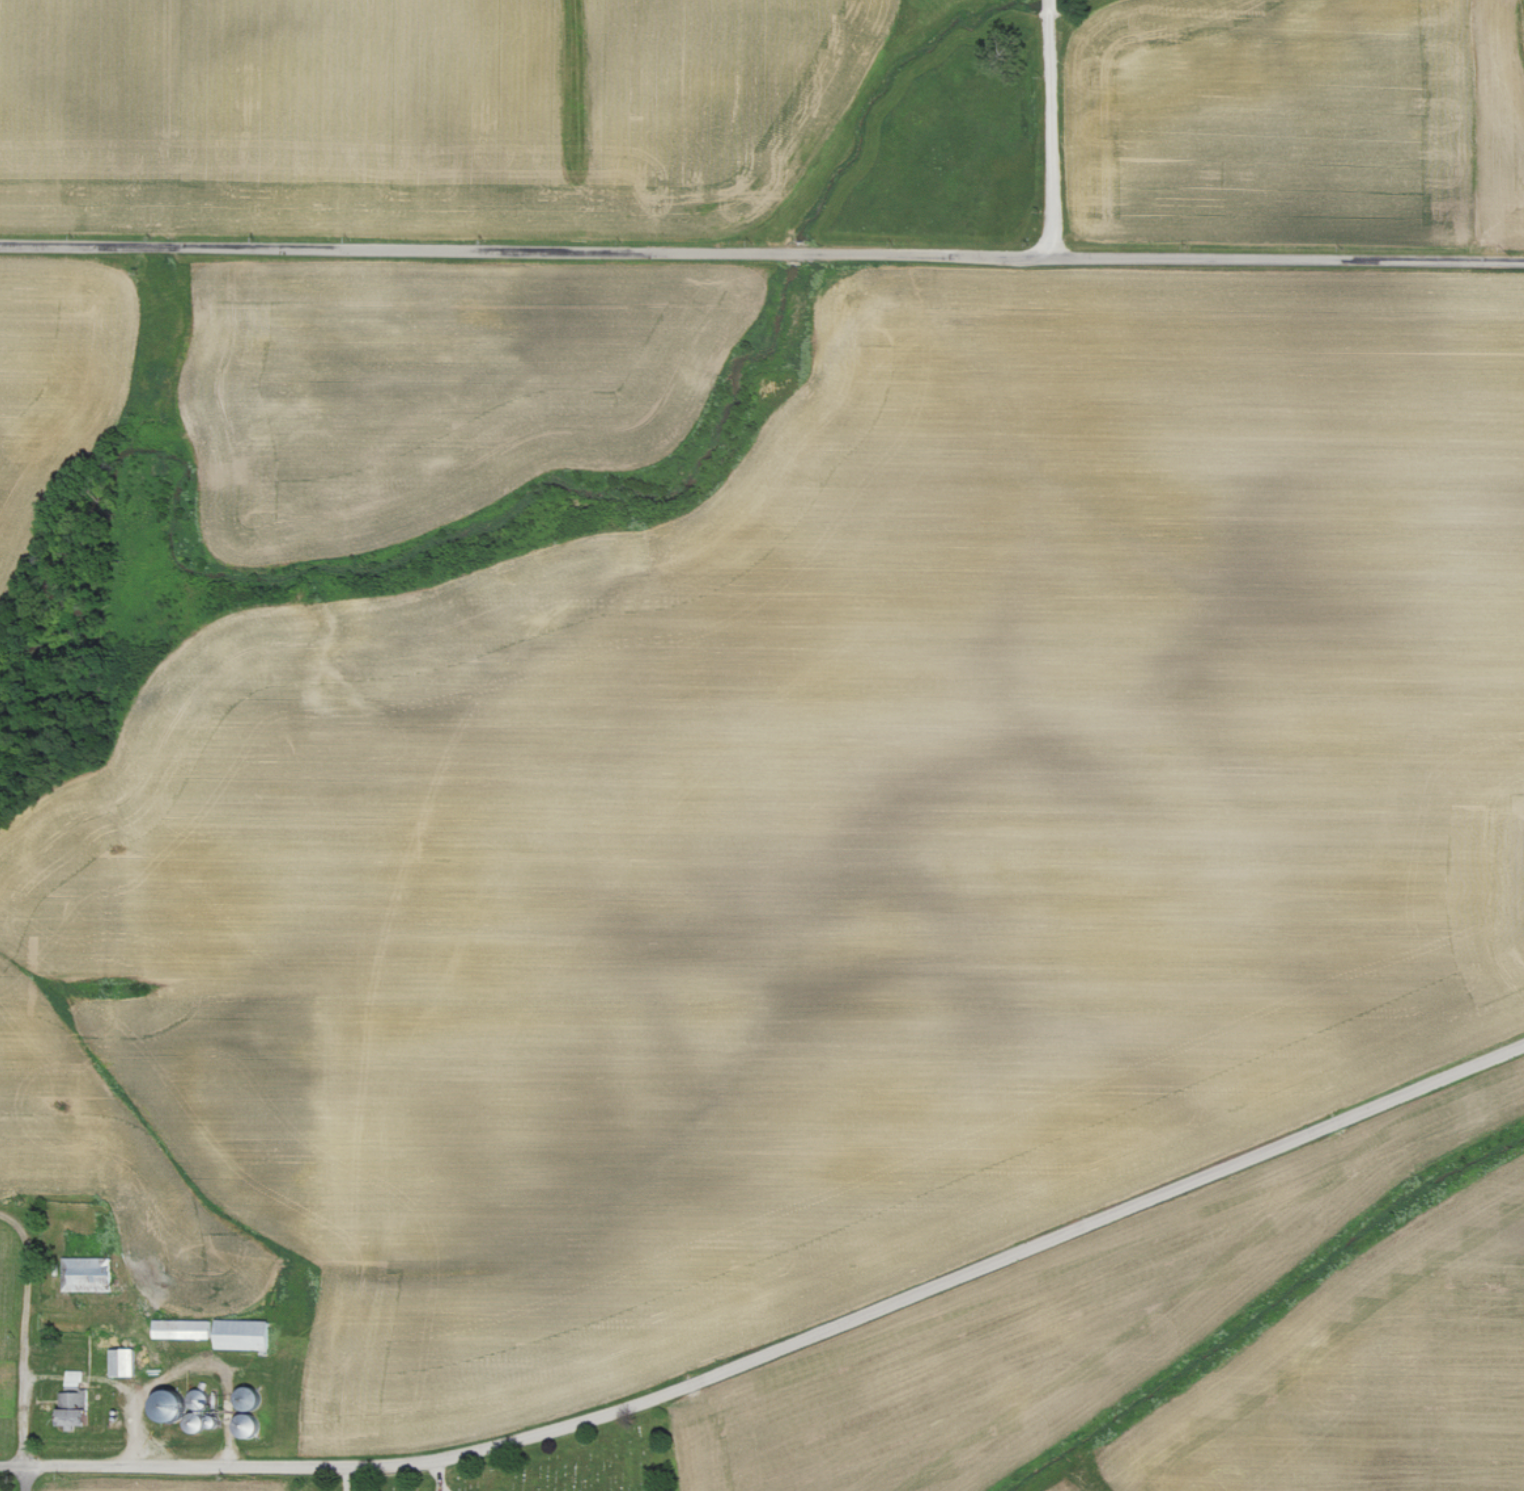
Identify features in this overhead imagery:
road: (1049, 128)
road: (761, 256)
road: (8, 1221)
building: (96, 1273)
road: (897, 1298)
building: (186, 1329)
building: (247, 1335)
road: (18, 1357)
building: (77, 1378)
building: (253, 1399)
building: (188, 1409)
building: (77, 1411)
park: (549, 1463)
road: (124, 1465)

